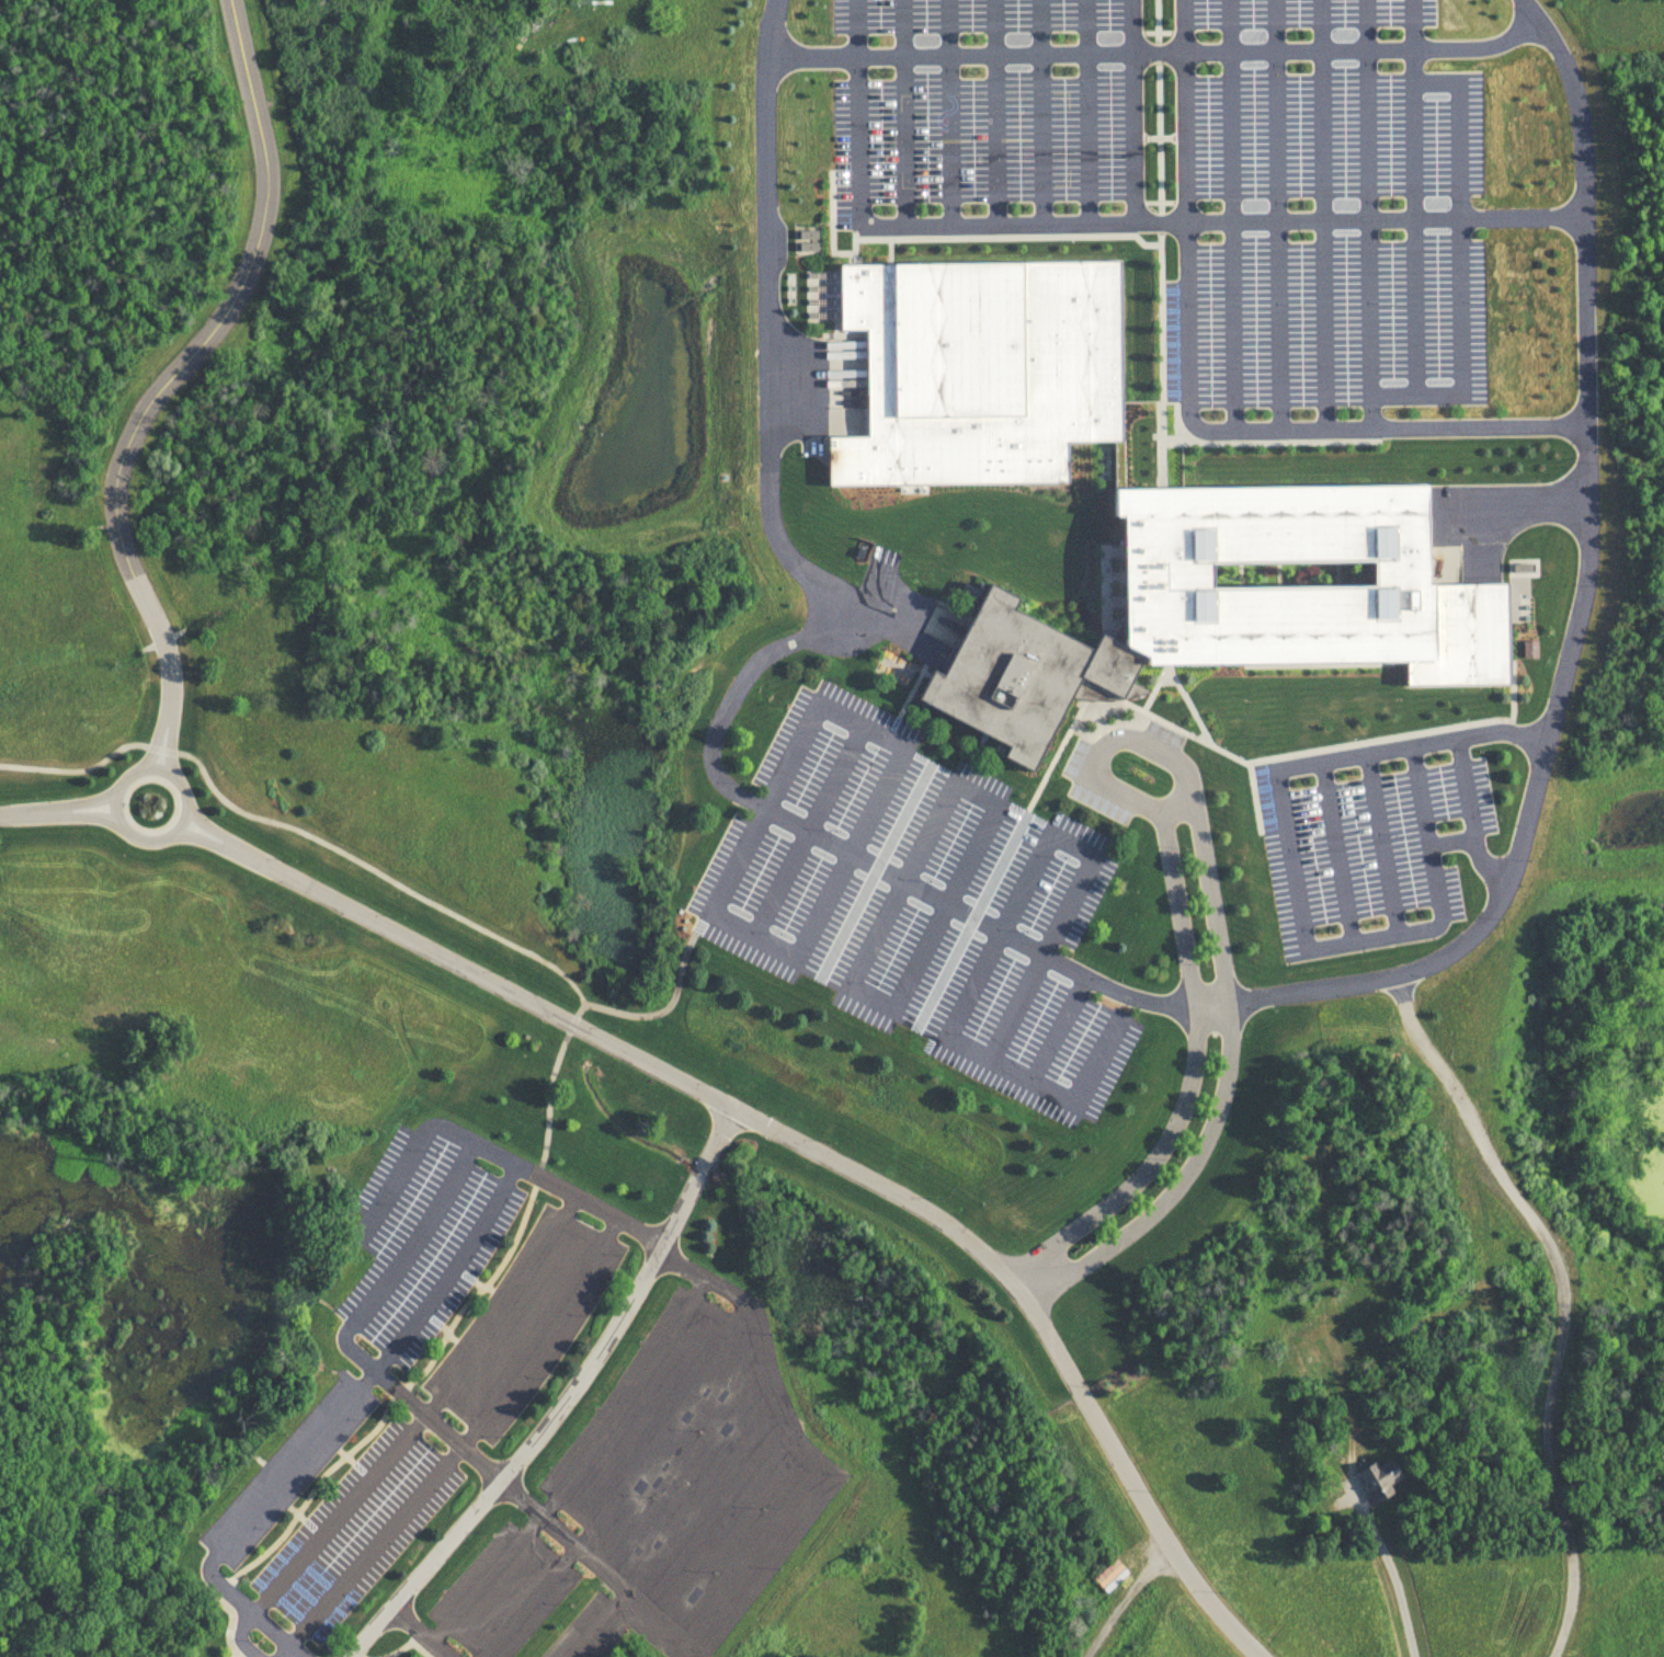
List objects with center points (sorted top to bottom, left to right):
road: (1159, 52)
road: (1183, 108)
road: (1086, 110)
road: (1132, 110)
road: (904, 111)
road: (950, 111)
road: (994, 111)
road: (1041, 111)
road: (857, 112)
parking lot: (1198, 173)
road: (1413, 195)
road: (1368, 196)
road: (1458, 213)
road: (1231, 214)
road: (1276, 214)
road: (1321, 215)
road: (1220, 219)
road: (1160, 242)
road: (190, 352)
road: (1399, 392)
road: (1288, 430)
road: (1521, 505)
building: (1133, 506)
road: (1581, 607)
road: (773, 650)
road: (158, 734)
road: (171, 736)
road: (1129, 736)
road: (1412, 744)
road: (1466, 785)
road: (1178, 803)
road: (67, 807)
road: (7, 818)
road: (68, 818)
road: (228, 838)
road: (308, 839)
road: (157, 841)
road: (1383, 842)
road: (1475, 843)
road: (223, 847)
road: (1337, 849)
parking lot: (921, 903)
road: (1370, 936)
road: (422, 946)
road: (663, 1008)
road: (803, 1141)
road: (544, 1176)
road: (388, 1186)
road: (412, 1237)
road: (1564, 1299)
road: (762, 1339)
road: (426, 1367)
road: (567, 1397)
road: (426, 1413)
road: (329, 1422)
road: (467, 1439)
road: (580, 1466)
road: (696, 1473)
road: (1122, 1477)
building: (1380, 1478)
road: (625, 1486)
road: (512, 1488)
road: (722, 1516)
road: (755, 1553)
road: (1390, 1573)
building: (1112, 1574)
road: (1120, 1604)
road: (599, 1623)
road: (421, 1631)
road: (440, 1654)

